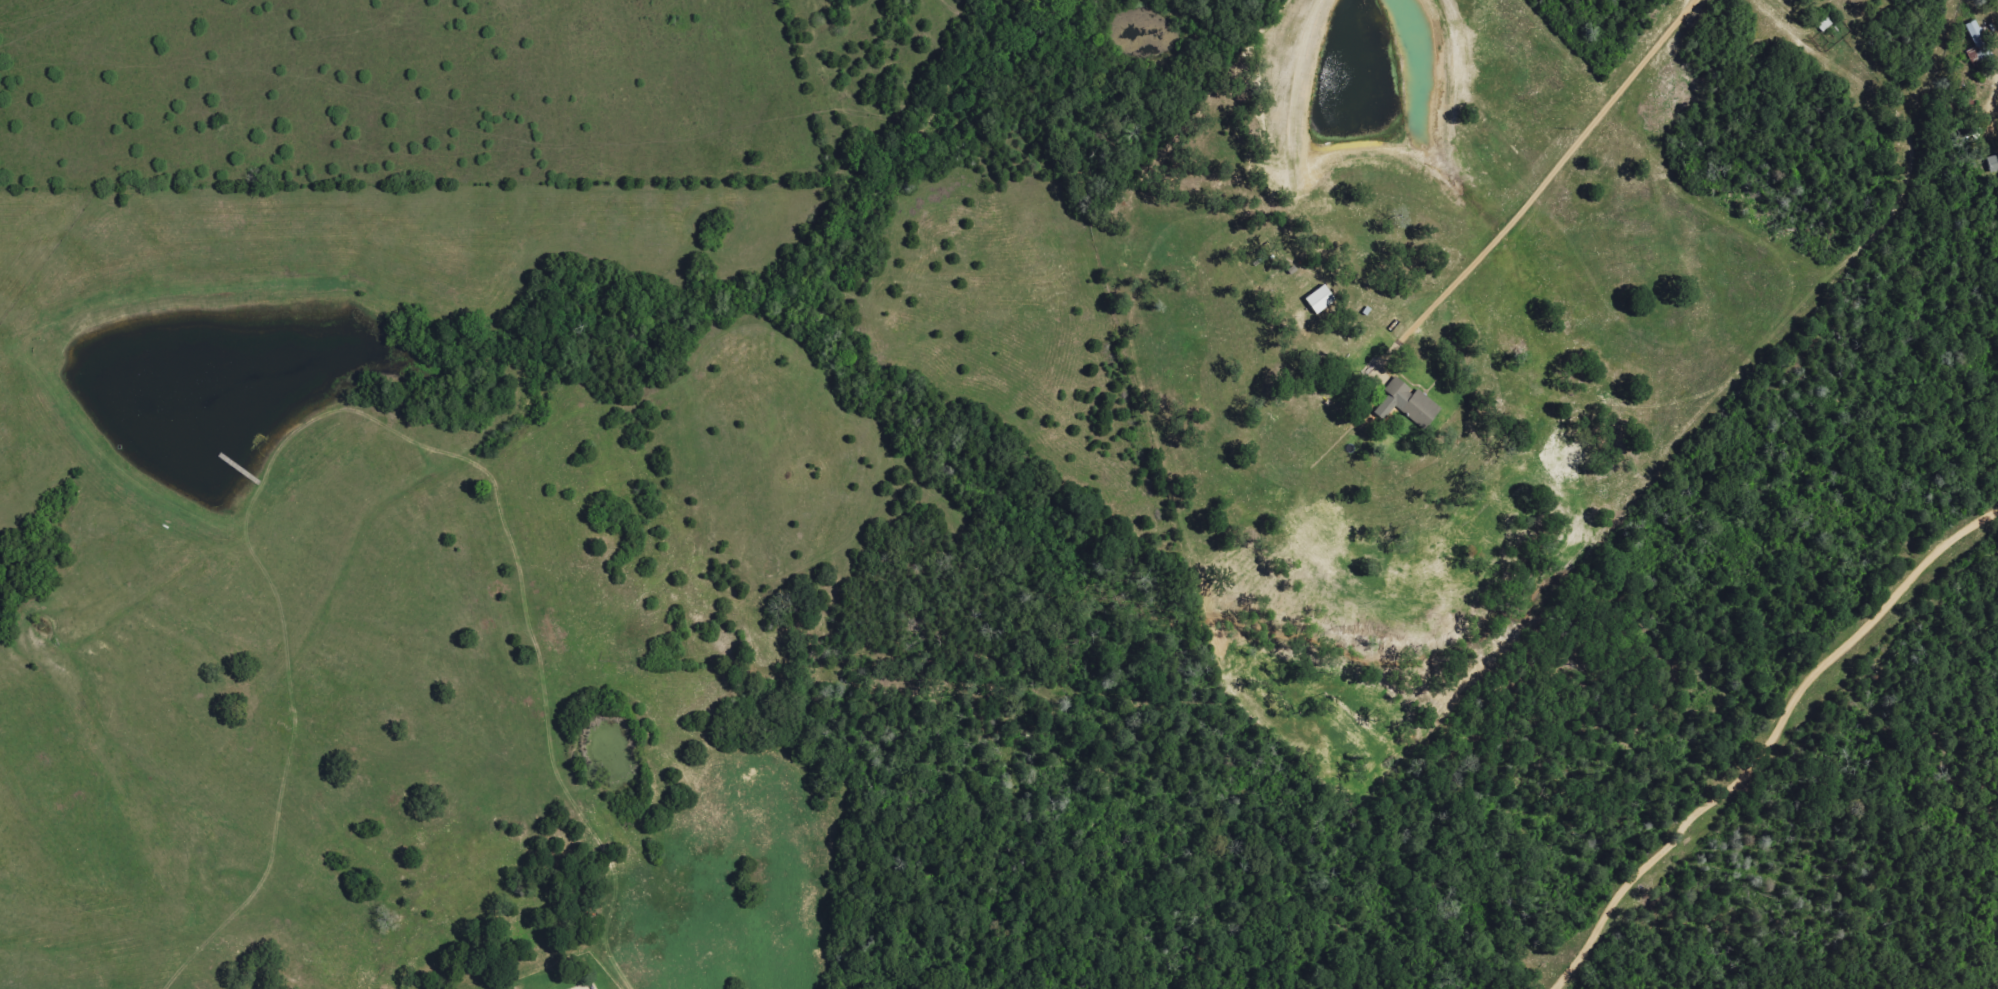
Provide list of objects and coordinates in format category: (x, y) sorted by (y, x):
building: (1978, 43)
road: (1997, 87)
building: (1994, 163)
road: (1548, 182)
building: (1322, 300)
building: (1413, 403)
road: (1768, 741)

